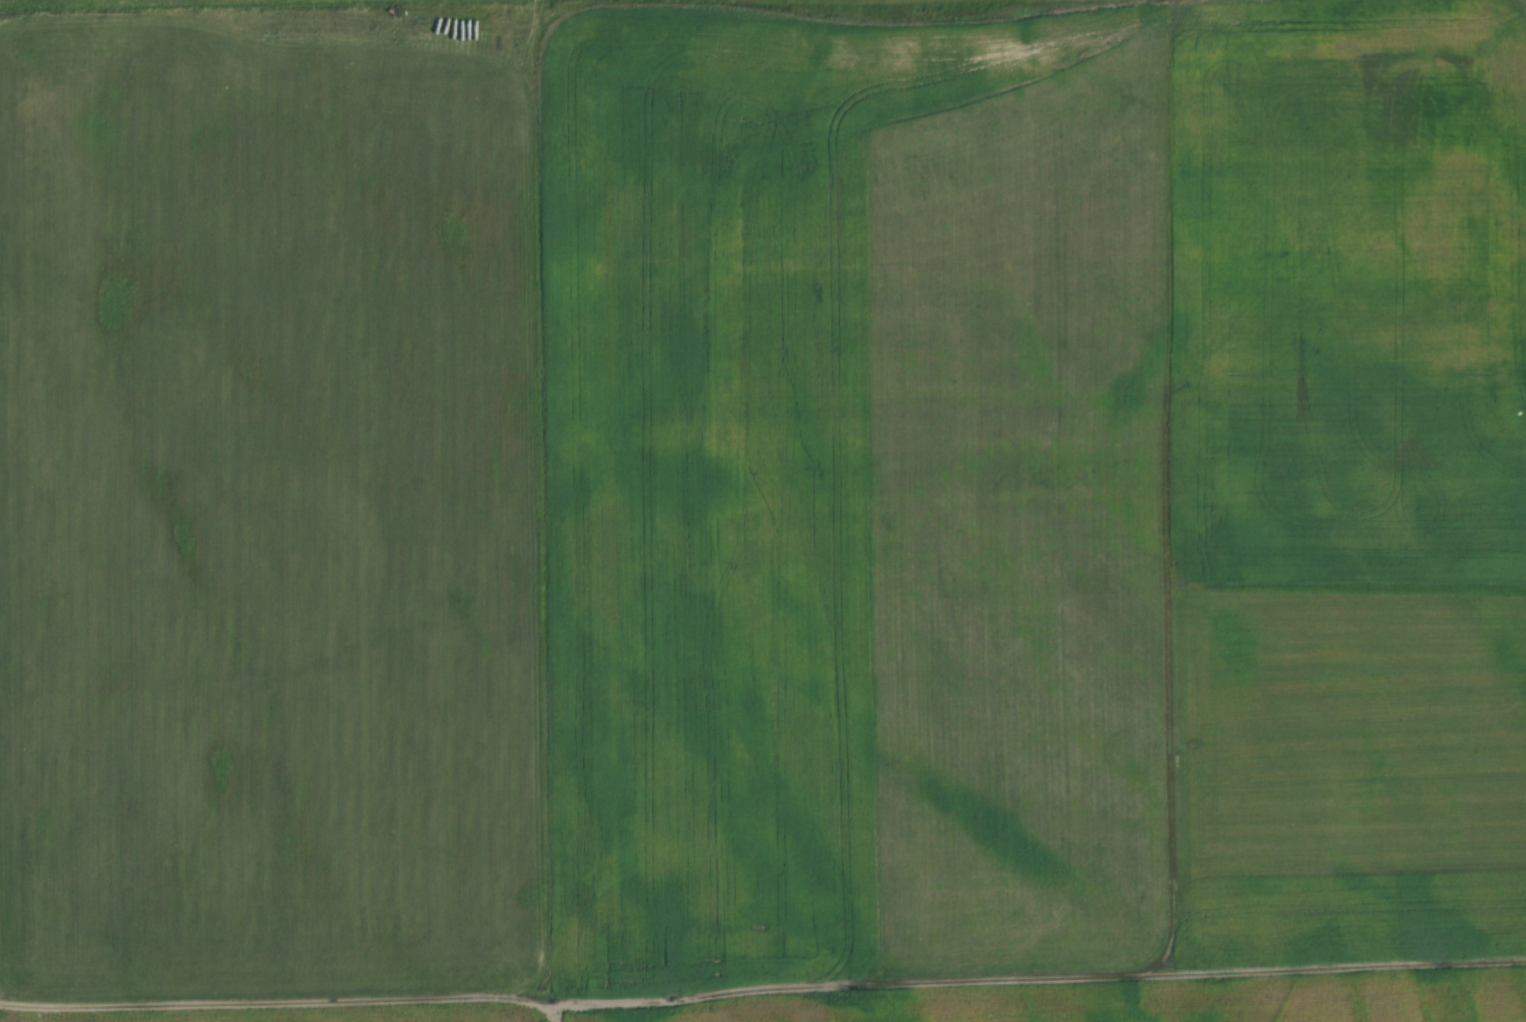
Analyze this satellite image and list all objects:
road: (762, 985)

